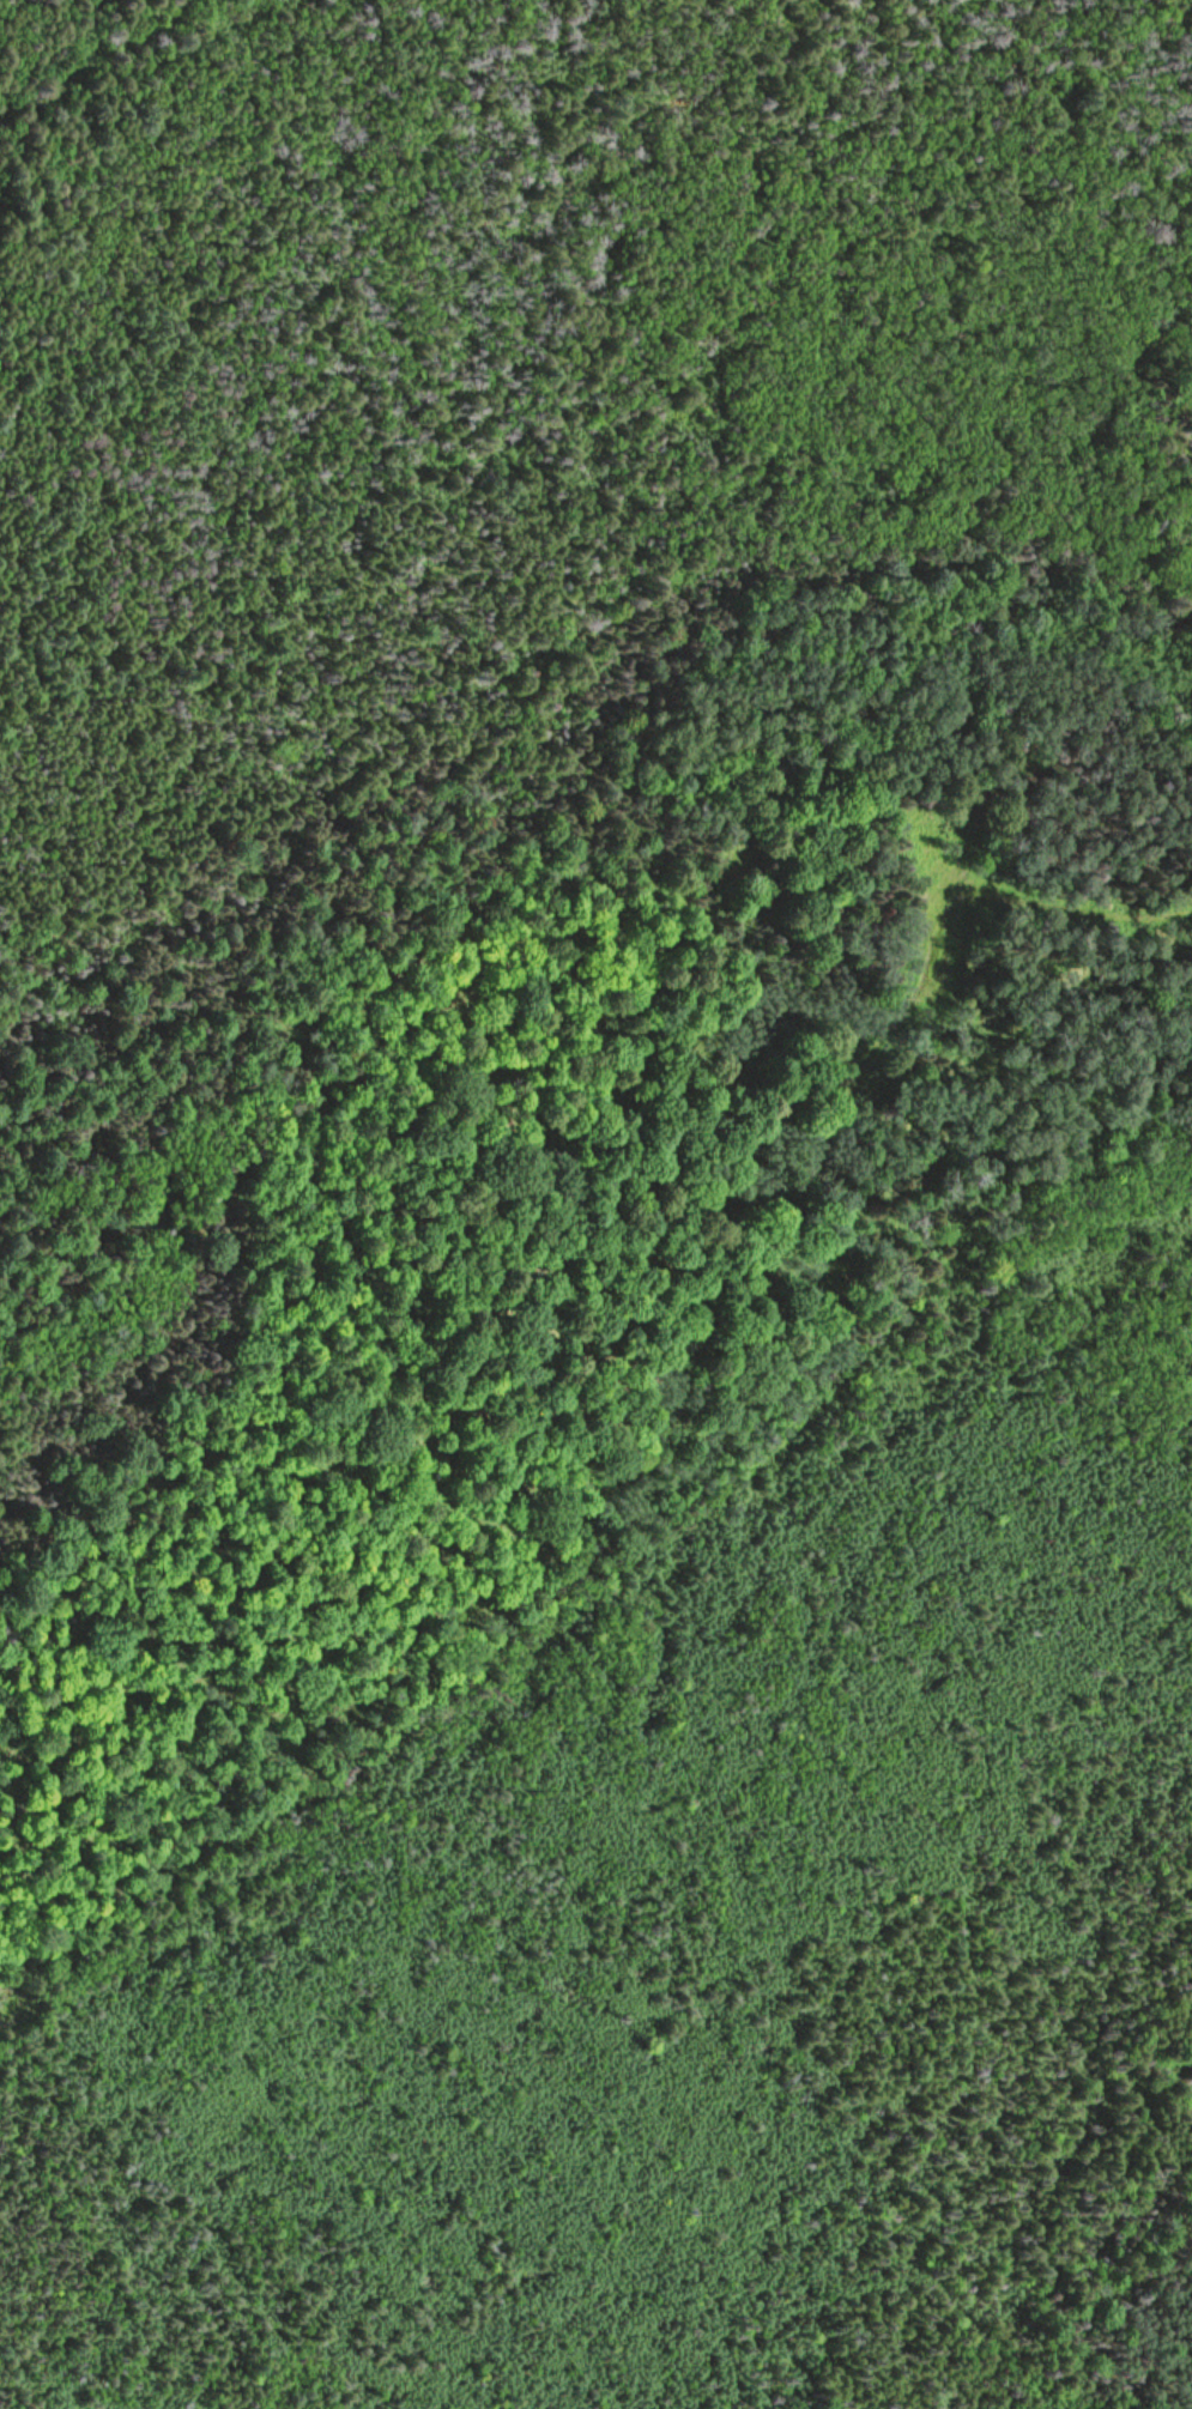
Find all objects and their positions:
river: (56, 86)

